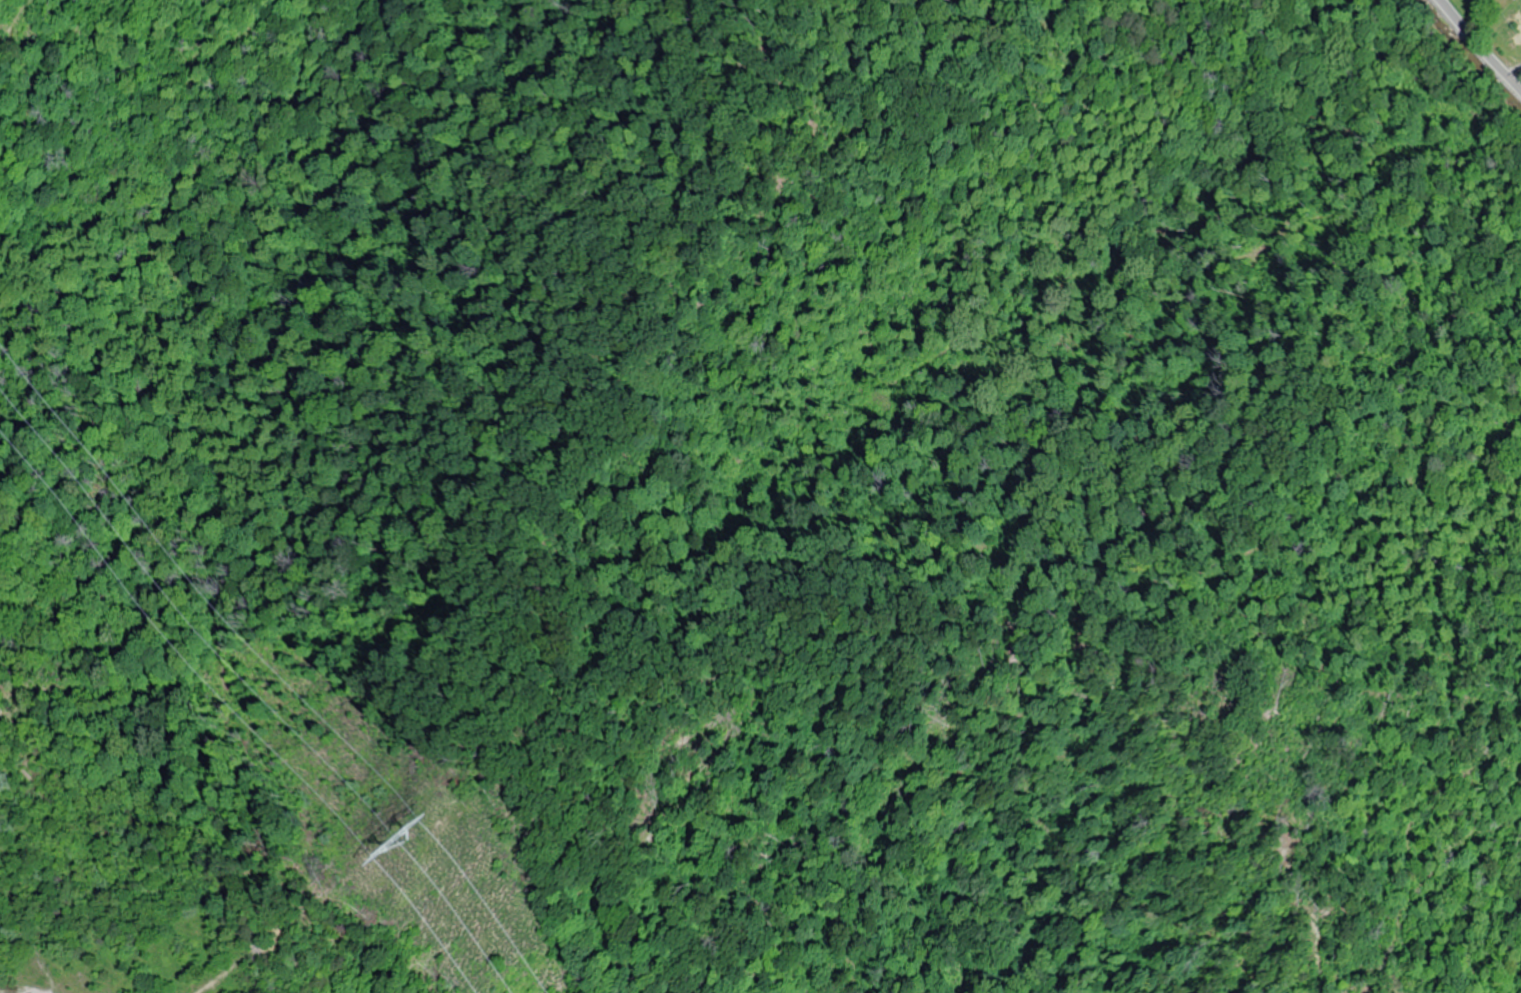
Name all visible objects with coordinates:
road: (1481, 45)
power tower: (418, 863)
road: (312, 915)

